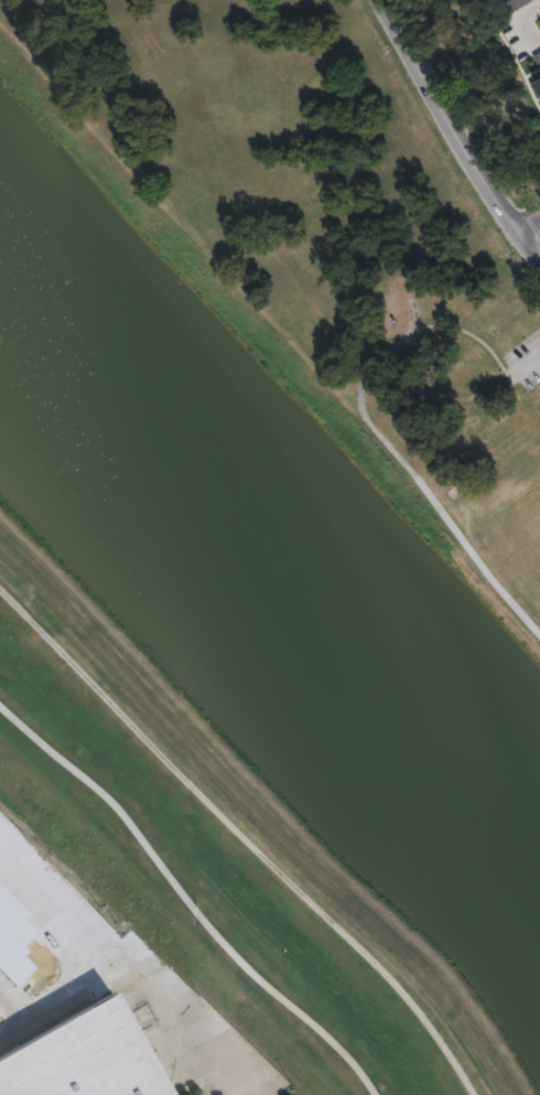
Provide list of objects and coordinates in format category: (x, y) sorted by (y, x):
building: (473, 0)
building: (517, 34)
building: (539, 83)
road: (457, 128)
road: (531, 224)
park: (322, 240)
parking lot: (526, 358)
road: (525, 362)
road: (378, 434)
river: (276, 548)
road: (244, 831)
road: (186, 899)
road: (149, 973)
building: (91, 1056)

